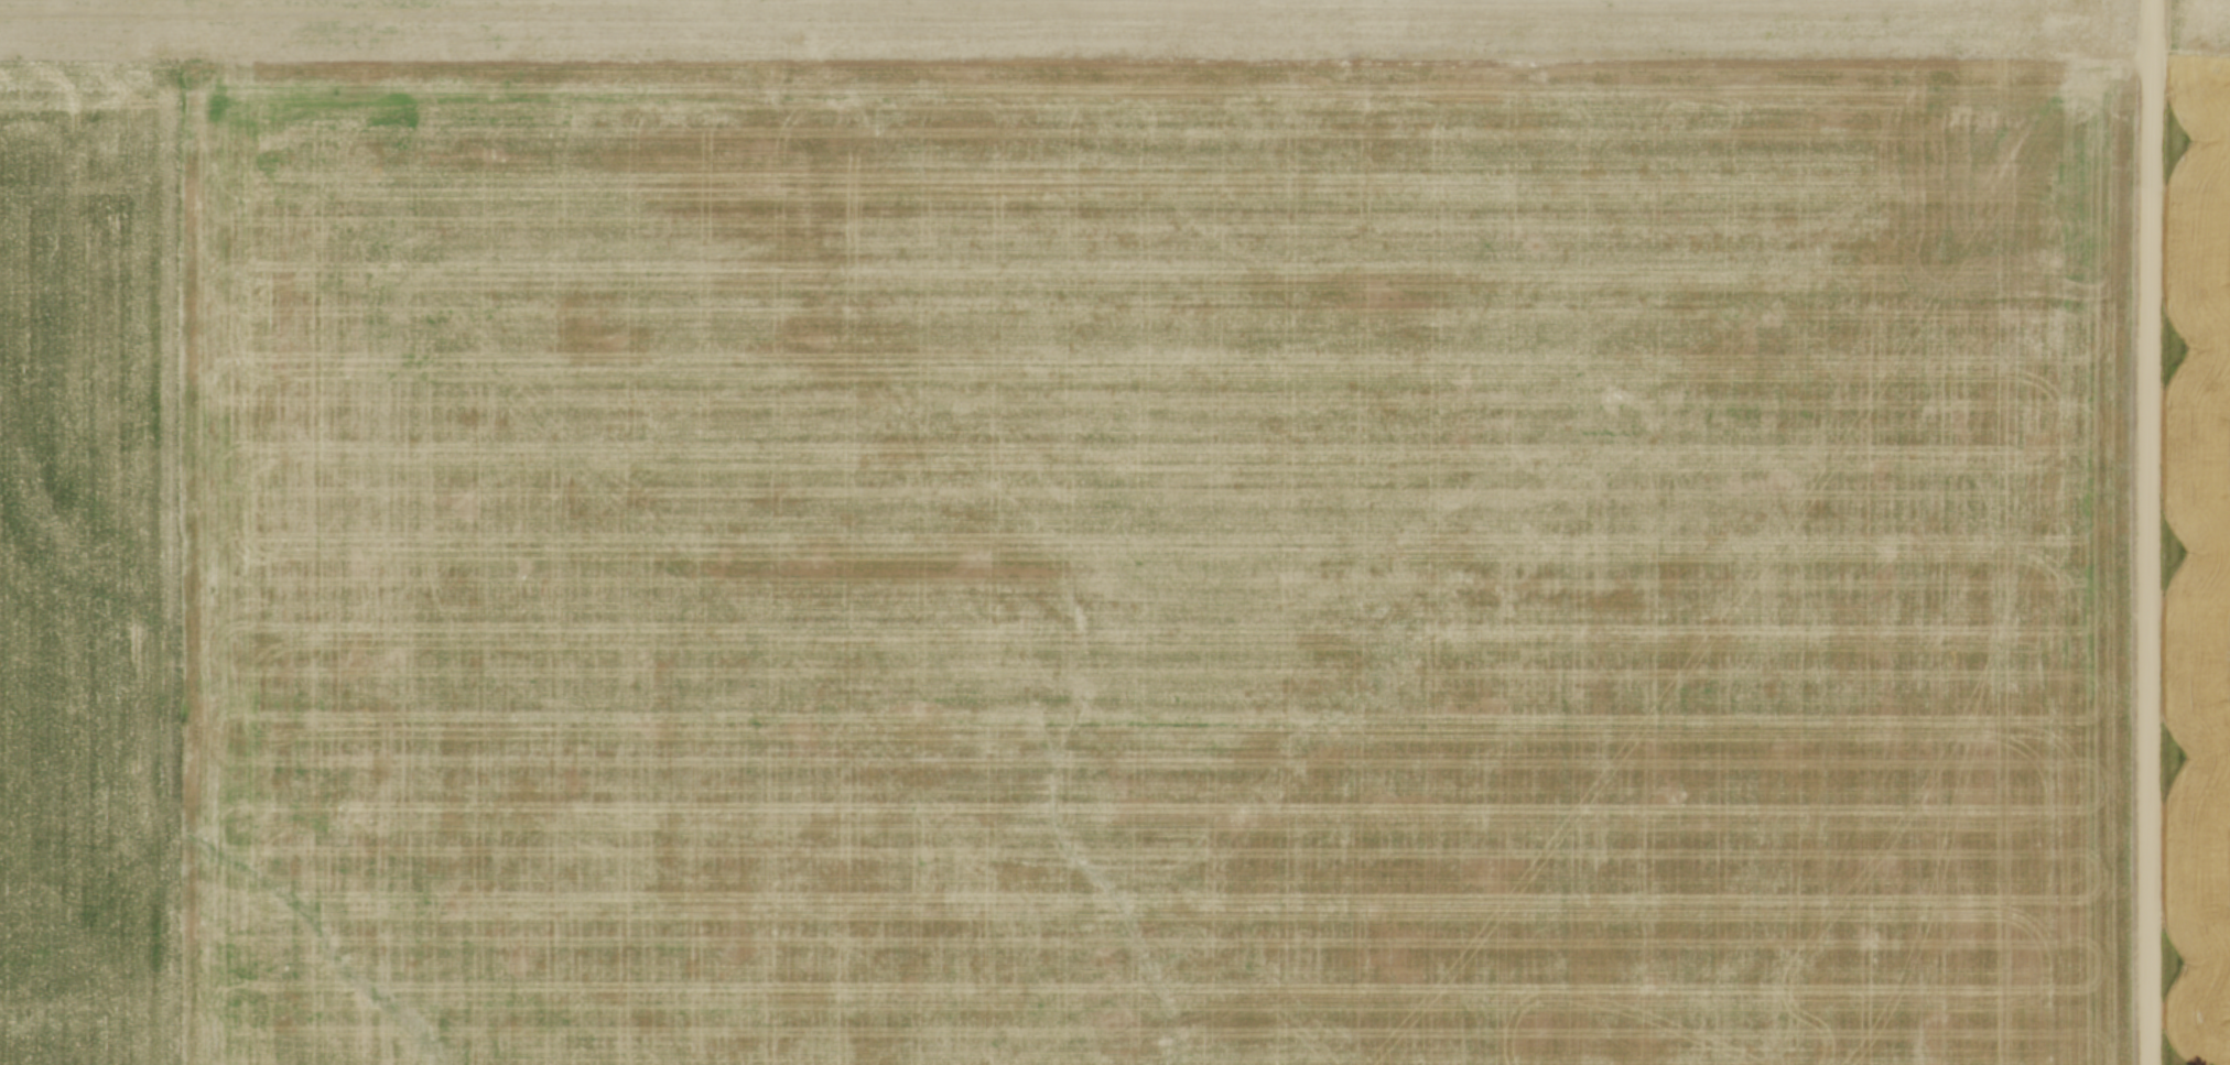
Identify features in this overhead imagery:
crop: (1065, 532)
road: (2151, 532)
crop: (2199, 539)

